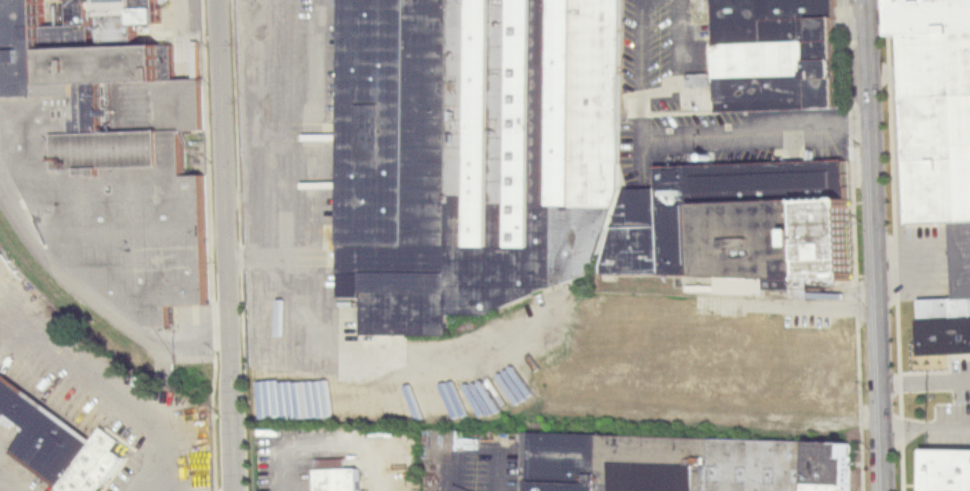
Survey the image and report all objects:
road: (641, 1)
road: (641, 49)
building: (777, 54)
road: (643, 119)
road: (858, 122)
road: (808, 124)
road: (715, 129)
building: (112, 150)
building: (942, 150)
road: (317, 169)
building: (739, 224)
road: (227, 245)
road: (877, 245)
road: (791, 305)
railway: (79, 310)
building: (713, 359)
road: (925, 379)
road: (104, 383)
road: (926, 428)
road: (337, 439)
building: (59, 441)
building: (684, 463)
building: (945, 469)
building: (341, 479)

